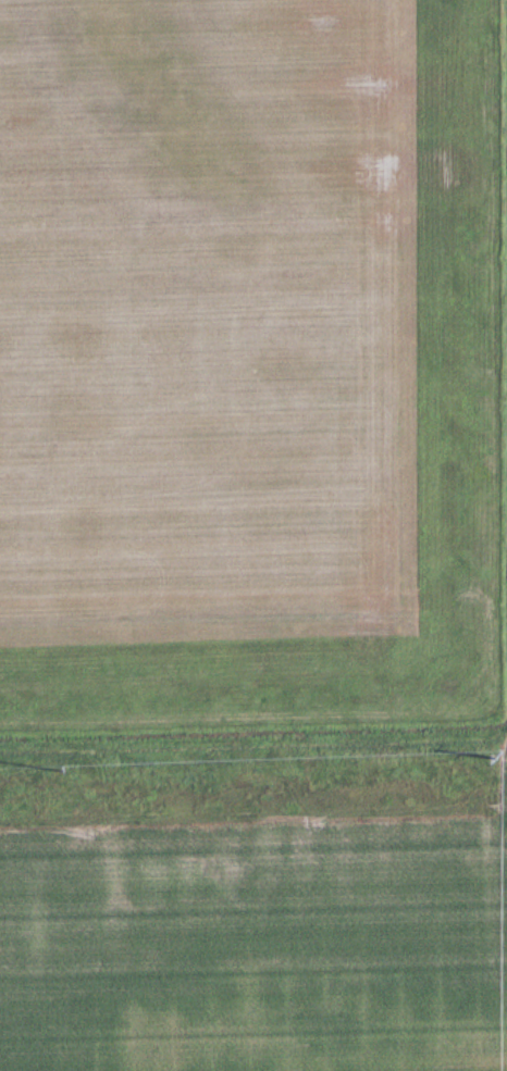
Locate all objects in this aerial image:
power tower: (491, 760)
power tower: (59, 771)

